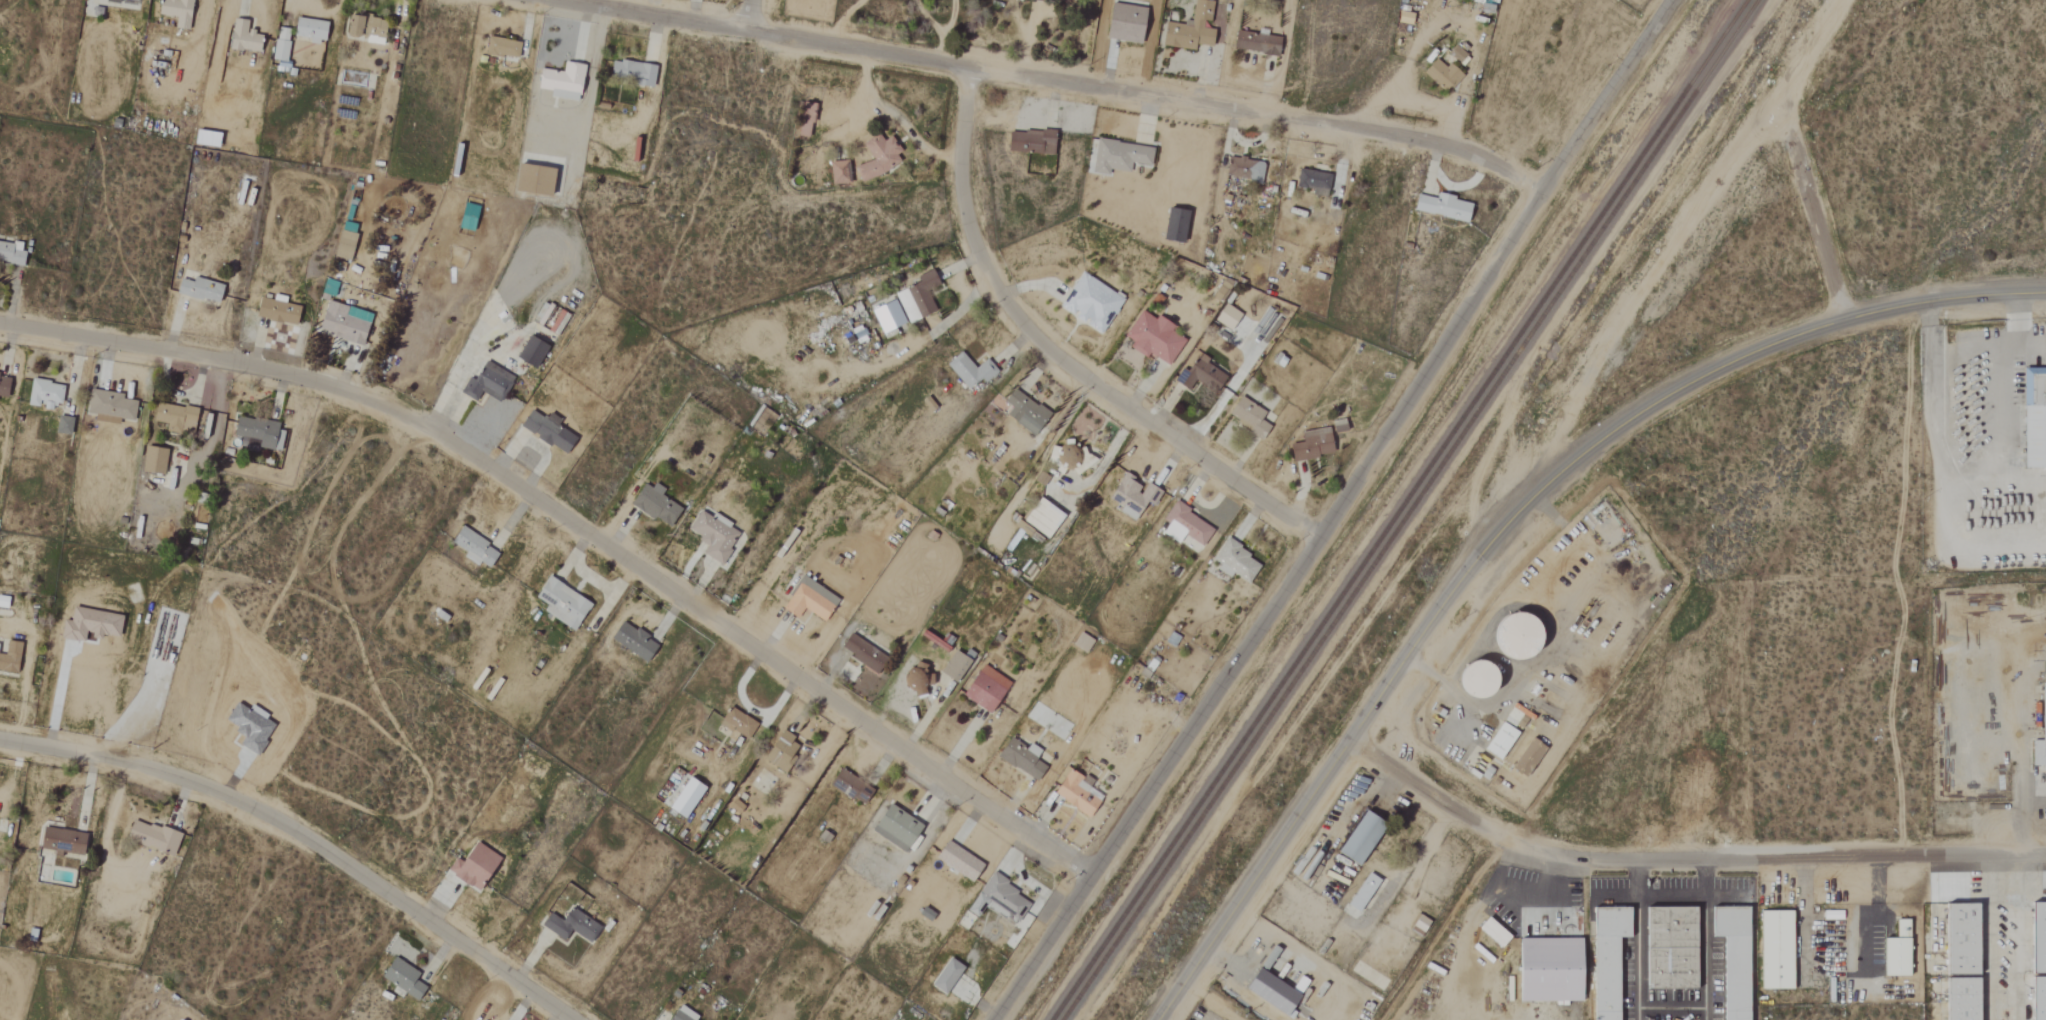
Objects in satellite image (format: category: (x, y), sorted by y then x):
building: (136, 0)
building: (1036, 0)
building: (116, 1)
building: (1475, 1)
building: (180, 12)
road: (747, 14)
road: (842, 19)
road: (927, 19)
building: (1122, 23)
building: (359, 26)
building: (377, 28)
building: (1188, 29)
building: (314, 30)
road: (947, 30)
building: (247, 38)
building: (1254, 43)
road: (1810, 47)
building: (500, 48)
building: (283, 49)
building: (1455, 53)
building: (1439, 75)
building: (627, 80)
road: (1056, 80)
building: (560, 81)
building: (1028, 142)
building: (1117, 156)
building: (877, 158)
building: (1243, 169)
building: (838, 172)
building: (530, 180)
building: (1313, 183)
building: (1440, 207)
road: (1810, 210)
building: (1173, 226)
building: (347, 240)
building: (12, 253)
building: (204, 289)
building: (916, 297)
building: (1089, 303)
building: (280, 311)
building: (1226, 317)
building: (560, 322)
building: (347, 323)
road: (2014, 335)
building: (1152, 338)
building: (535, 351)
road: (1054, 356)
building: (968, 370)
building: (0, 372)
building: (1198, 375)
building: (489, 383)
building: (5, 386)
building: (47, 393)
road: (1997, 402)
building: (113, 407)
building: (1023, 412)
building: (1246, 416)
road: (1932, 416)
building: (178, 417)
building: (2032, 417)
building: (66, 425)
building: (551, 431)
building: (261, 432)
building: (1311, 445)
building: (1072, 458)
building: (156, 460)
building: (1131, 495)
building: (653, 504)
railway: (1398, 510)
railway: (1408, 510)
road: (1334, 513)
building: (1040, 517)
road: (576, 525)
building: (1183, 525)
road: (1508, 529)
building: (711, 535)
building: (478, 548)
building: (1234, 561)
building: (807, 600)
building: (5, 602)
building: (560, 603)
building: (94, 625)
building: (1509, 635)
building: (631, 640)
building: (860, 652)
building: (12, 657)
building: (953, 665)
building: (914, 676)
building: (1470, 679)
building: (984, 688)
road: (57, 694)
road: (749, 708)
building: (736, 726)
building: (2040, 733)
building: (1498, 740)
building: (778, 749)
building: (1019, 757)
building: (1527, 757)
road: (2021, 774)
building: (849, 786)
building: (1075, 792)
building: (683, 797)
road: (1350, 817)
building: (894, 828)
building: (156, 837)
road: (305, 837)
building: (1357, 838)
building: (66, 841)
road: (1681, 853)
building: (956, 860)
building: (471, 866)
building: (1361, 892)
road: (1669, 896)
building: (998, 900)
road: (1247, 920)
building: (568, 925)
road: (1986, 935)
road: (2020, 935)
road: (1638, 936)
road: (1700, 936)
building: (2036, 938)
building: (1957, 939)
building: (1667, 948)
building: (1774, 950)
building: (1894, 951)
road: (1296, 952)
road: (1221, 957)
building: (1605, 959)
building: (1731, 960)
building: (1545, 969)
building: (945, 976)
building: (401, 978)
building: (1267, 991)
building: (2036, 998)
building: (1958, 999)
road: (1246, 1000)
road: (1670, 1009)
building: (680, 1014)

